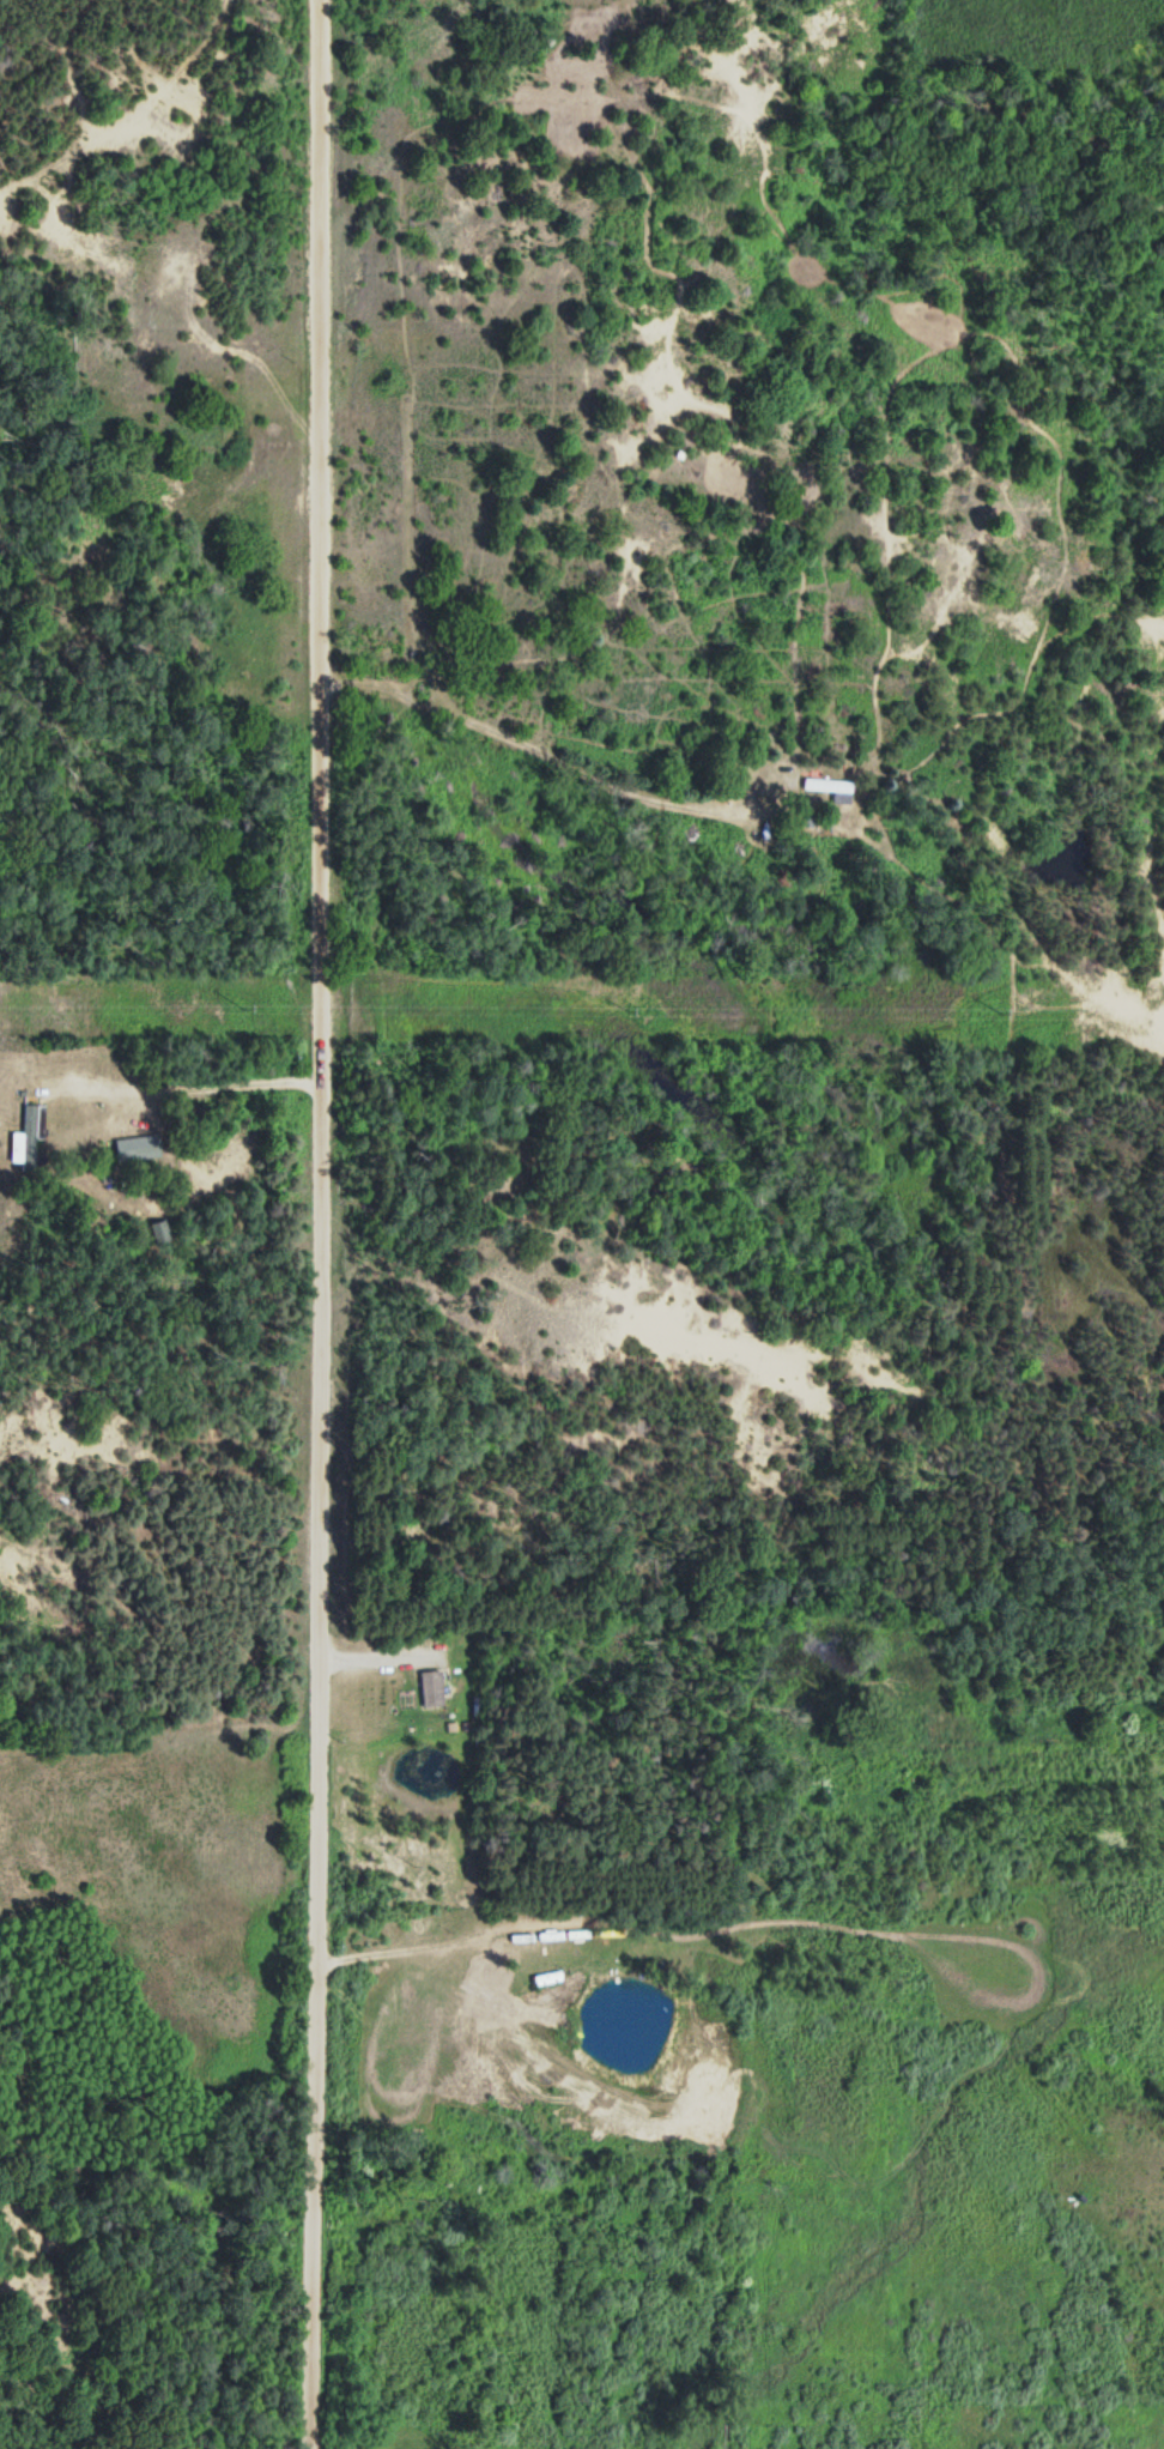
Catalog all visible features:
building: (829, 788)
building: (28, 1137)
building: (135, 1148)
road: (323, 1223)
building: (429, 1689)

